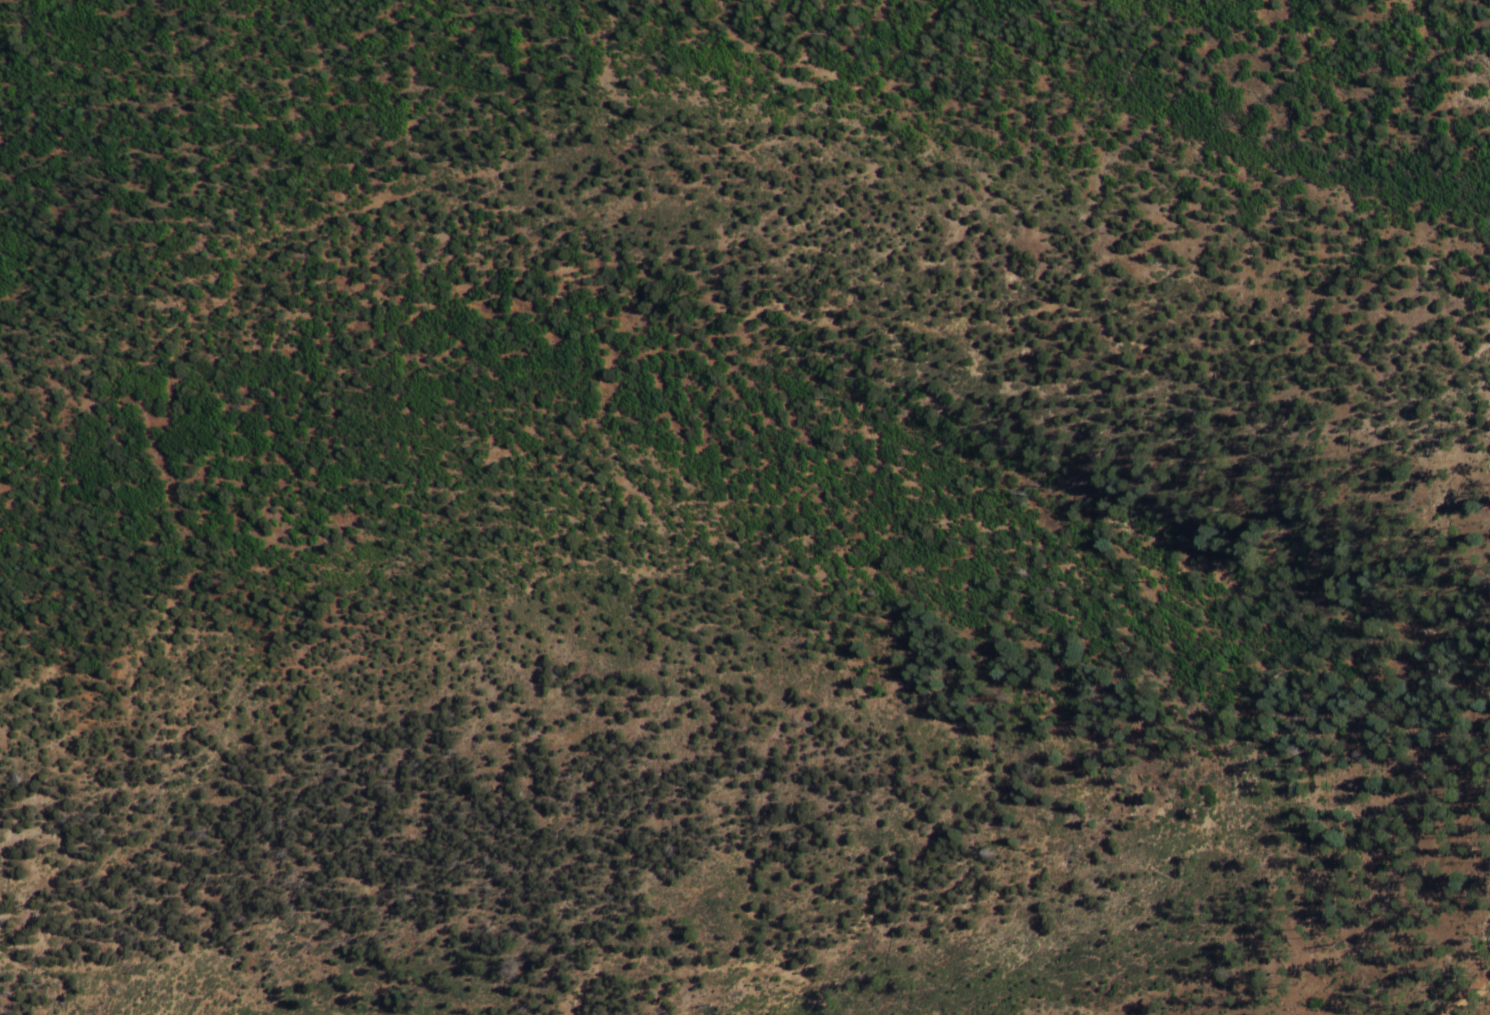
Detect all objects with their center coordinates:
road: (1462, 1000)

